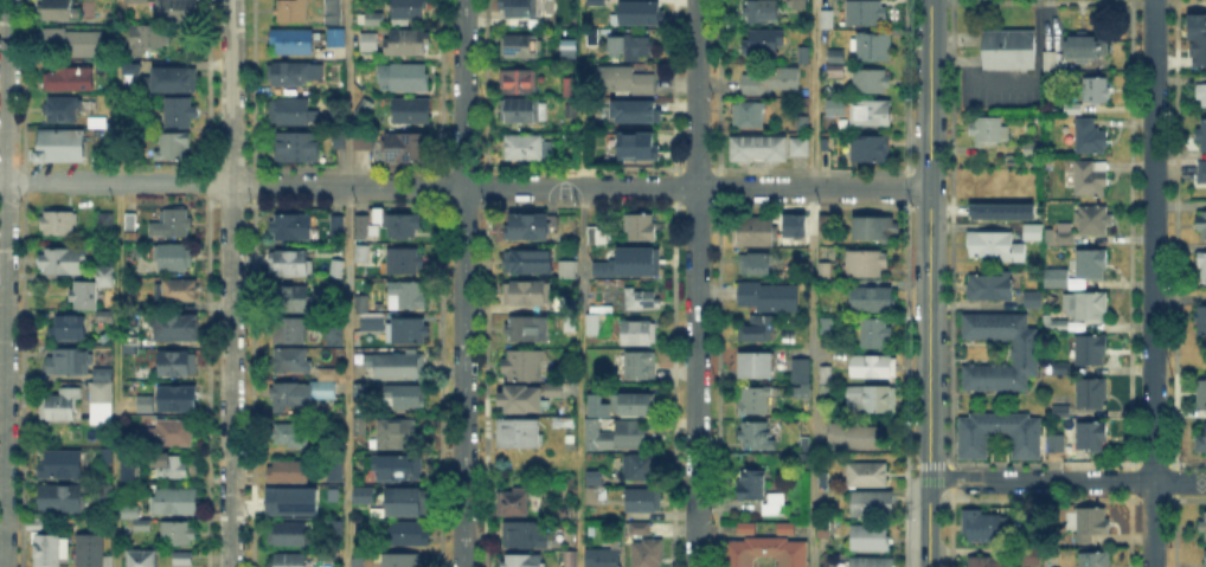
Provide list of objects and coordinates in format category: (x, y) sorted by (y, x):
building: (596, 1)
building: (137, 2)
building: (798, 5)
building: (62, 9)
building: (518, 9)
building: (178, 11)
building: (333, 11)
building: (410, 11)
building: (293, 12)
building: (640, 13)
building: (758, 13)
building: (866, 14)
building: (374, 19)
building: (828, 21)
building: (592, 37)
building: (1199, 37)
building: (147, 38)
building: (336, 39)
building: (764, 41)
building: (293, 43)
building: (368, 43)
building: (76, 44)
building: (409, 44)
building: (1084, 45)
building: (519, 47)
building: (873, 47)
building: (633, 49)
building: (1009, 49)
building: (571, 50)
flagpole: (957, 52)
building: (806, 54)
building: (1052, 62)
building: (836, 65)
building: (128, 66)
building: (294, 75)
building: (169, 77)
building: (408, 78)
building: (63, 82)
building: (623, 82)
building: (871, 82)
building: (519, 83)
building: (771, 83)
building: (373, 85)
building: (571, 89)
parking lot: (994, 91)
road: (347, 92)
building: (1096, 92)
building: (1202, 97)
building: (364, 108)
building: (835, 108)
building: (63, 111)
building: (521, 111)
building: (634, 111)
building: (290, 112)
building: (412, 112)
building: (873, 112)
building: (179, 115)
building: (749, 117)
building: (101, 123)
building: (804, 125)
building: (988, 129)
building: (1090, 137)
building: (1202, 137)
building: (364, 141)
building: (63, 147)
building: (643, 147)
building: (174, 148)
building: (525, 148)
building: (299, 149)
building: (408, 149)
building: (766, 149)
building: (1031, 149)
building: (868, 150)
building: (1202, 172)
road: (114, 180)
building: (1091, 180)
road: (288, 186)
road: (637, 187)
building: (1001, 210)
building: (107, 221)
building: (1093, 221)
building: (133, 223)
building: (172, 223)
building: (59, 224)
building: (791, 224)
building: (826, 224)
building: (402, 226)
building: (530, 226)
building: (339, 227)
building: (363, 227)
building: (1202, 227)
building: (293, 228)
building: (642, 228)
building: (1028, 228)
building: (372, 230)
building: (870, 230)
building: (755, 233)
building: (1060, 234)
road: (929, 236)
building: (597, 237)
building: (1066, 239)
building: (992, 243)
building: (339, 247)
building: (363, 254)
building: (177, 258)
building: (64, 262)
building: (405, 262)
building: (528, 262)
building: (629, 263)
building: (290, 265)
building: (755, 265)
building: (866, 265)
building: (1091, 265)
building: (336, 266)
building: (1202, 269)
building: (570, 270)
building: (826, 272)
building: (803, 273)
building: (104, 277)
building: (1054, 279)
road: (2, 283)
road: (116, 283)
road: (230, 283)
road: (462, 283)
road: (580, 283)
road: (695, 283)
road: (813, 283)
building: (987, 283)
road: (1153, 283)
building: (177, 292)
building: (527, 294)
building: (1029, 296)
building: (83, 297)
building: (295, 297)
building: (406, 297)
building: (769, 298)
building: (872, 298)
building: (643, 301)
building: (364, 304)
building: (1085, 308)
building: (103, 316)
building: (1201, 322)
building: (373, 323)
building: (1058, 324)
building: (599, 326)
building: (827, 327)
building: (175, 328)
building: (71, 329)
building: (528, 329)
building: (758, 330)
building: (290, 331)
building: (405, 331)
building: (875, 333)
building: (641, 334)
building: (335, 337)
building: (133, 344)
building: (1089, 350)
building: (1025, 353)
building: (293, 362)
building: (70, 363)
building: (178, 365)
building: (756, 365)
building: (399, 366)
building: (524, 366)
building: (642, 367)
building: (875, 368)
building: (1058, 369)
building: (803, 371)
building: (104, 373)
building: (828, 373)
building: (327, 375)
road: (347, 376)
building: (554, 388)
building: (322, 392)
building: (360, 394)
building: (1092, 394)
building: (291, 395)
building: (1201, 395)
building: (404, 398)
building: (1046, 398)
building: (522, 399)
building: (179, 400)
building: (753, 400)
building: (872, 400)
building: (102, 405)
building: (147, 405)
building: (634, 405)
building: (60, 406)
building: (1061, 412)
building: (360, 427)
building: (168, 434)
building: (291, 434)
building: (397, 434)
building: (520, 434)
building: (616, 436)
building: (757, 437)
building: (854, 438)
building: (1091, 438)
building: (1202, 440)
building: (1056, 443)
building: (794, 444)
building: (807, 444)
building: (1026, 445)
building: (801, 462)
building: (63, 465)
building: (641, 466)
building: (172, 468)
building: (127, 469)
building: (332, 469)
building: (396, 470)
building: (288, 472)
road: (955, 473)
road: (920, 476)
building: (868, 477)
building: (131, 479)
road: (1092, 482)
building: (753, 487)
building: (594, 489)
building: (360, 494)
building: (826, 494)
building: (107, 495)
building: (572, 497)
building: (60, 500)
building: (644, 502)
building: (174, 503)
building: (294, 503)
building: (406, 503)
building: (512, 504)
building: (775, 504)
building: (872, 504)
building: (365, 510)
building: (336, 511)
building: (129, 514)
road: (929, 520)
road: (912, 522)
building: (145, 526)
building: (1092, 526)
building: (1204, 526)
building: (640, 529)
building: (825, 529)
building: (984, 529)
building: (289, 535)
building: (413, 535)
building: (525, 536)
building: (179, 541)
building: (872, 541)
building: (92, 549)
building: (763, 549)
building: (51, 550)
building: (647, 554)
building: (1031, 558)
building: (1204, 558)
building: (142, 559)
building: (603, 559)
building: (289, 560)
building: (402, 560)
building: (571, 560)
building: (1095, 560)
building: (524, 561)
building: (873, 562)
building: (987, 562)
building: (359, 563)

